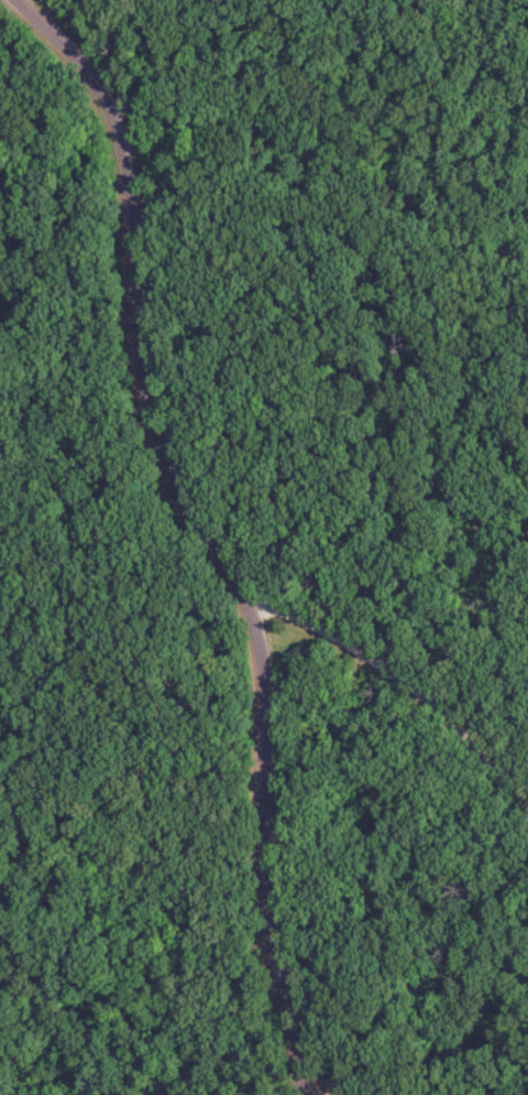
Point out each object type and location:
road: (212, 525)
road: (402, 683)

